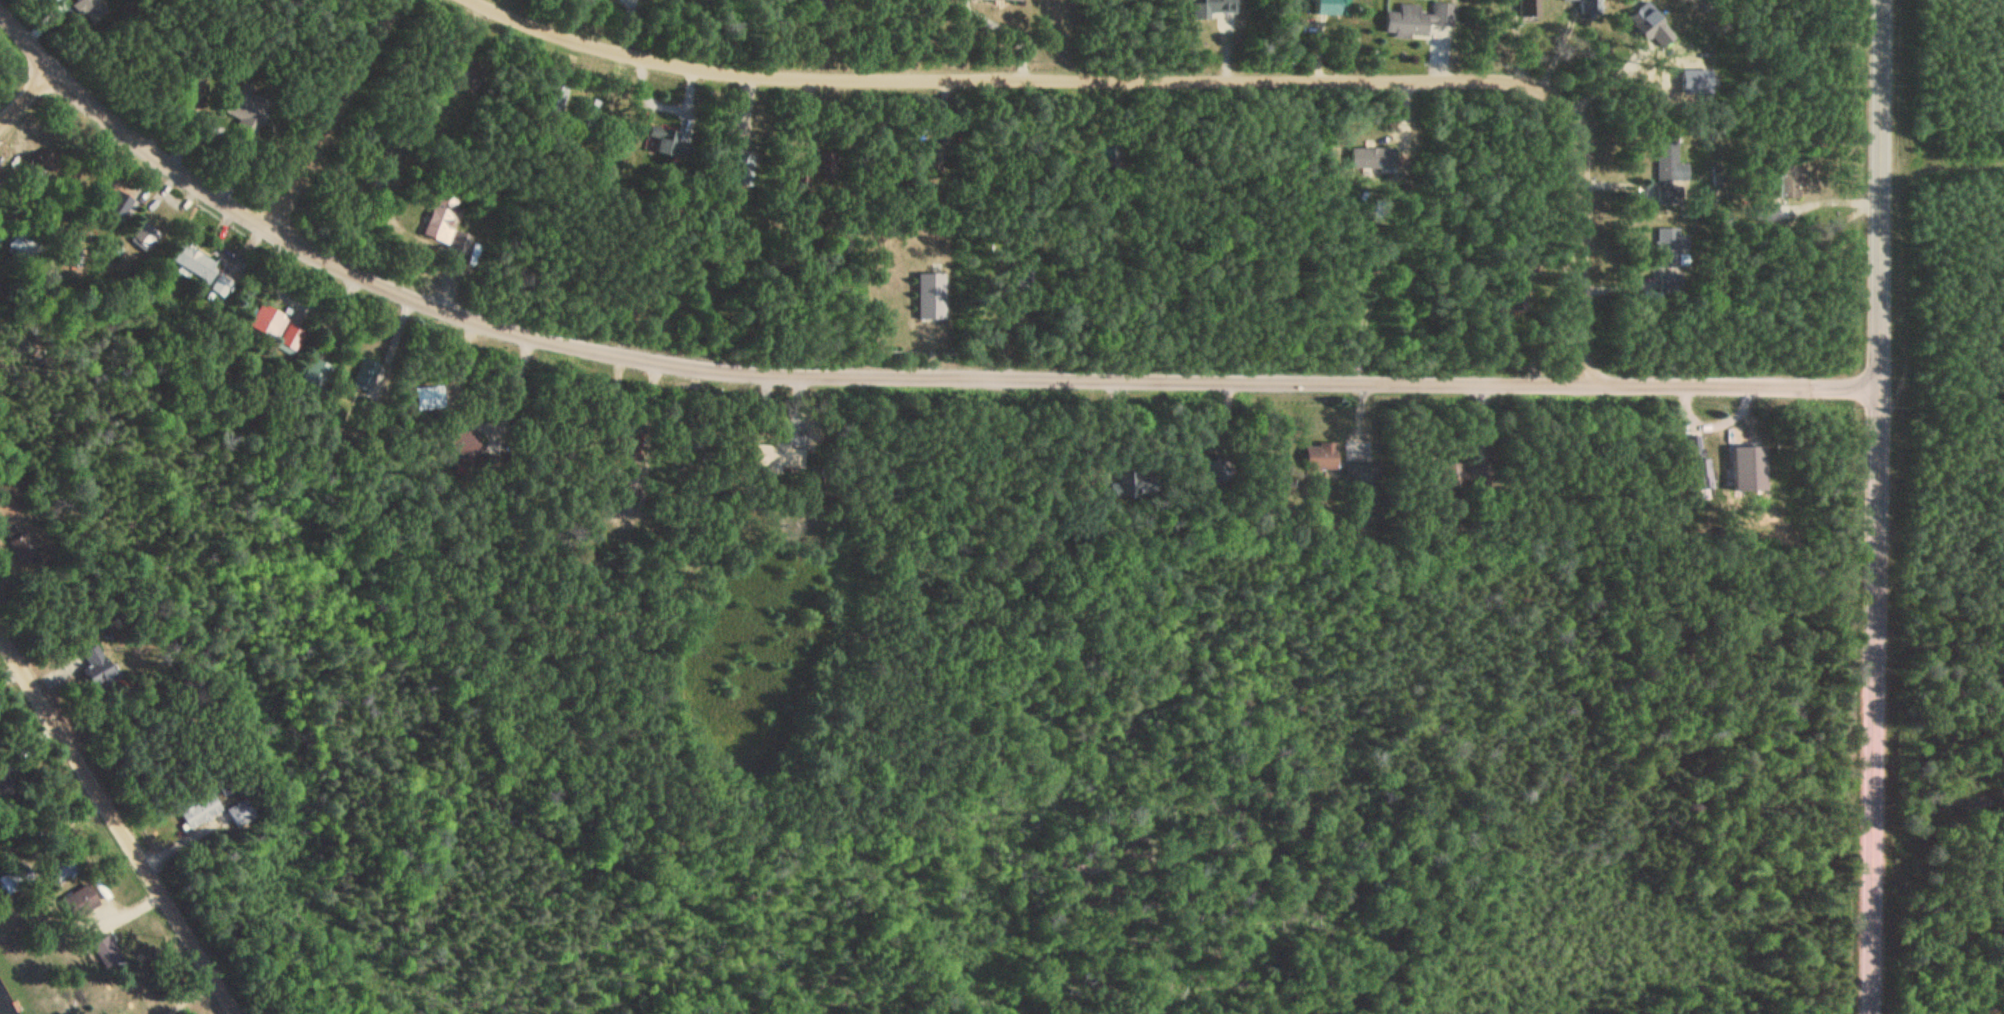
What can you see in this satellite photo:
building: (1333, 6)
building: (1589, 7)
building: (1529, 8)
building: (1209, 9)
building: (1410, 22)
road: (1162, 80)
road: (20, 96)
road: (331, 112)
building: (668, 143)
building: (1374, 160)
building: (1670, 164)
building: (444, 217)
building: (145, 235)
building: (22, 247)
building: (196, 262)
building: (221, 285)
building: (931, 296)
building: (278, 327)
building: (318, 375)
road: (885, 375)
building: (466, 445)
building: (1323, 455)
building: (773, 456)
road: (1876, 507)
road: (1939, 631)
building: (98, 665)
building: (201, 812)
building: (242, 814)
road: (123, 821)
building: (63, 868)
building: (16, 879)
building: (81, 901)

